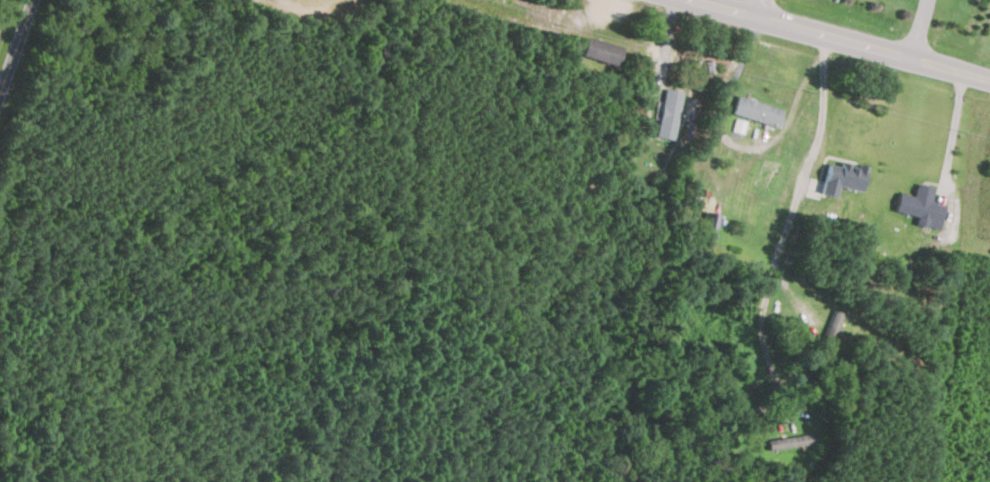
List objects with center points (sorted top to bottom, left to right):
road: (761, 9)
road: (920, 29)
road: (842, 40)
road: (16, 47)
building: (600, 50)
building: (758, 110)
building: (669, 113)
road: (953, 131)
road: (814, 164)
building: (845, 177)
building: (711, 218)
building: (833, 327)
road: (765, 349)
building: (793, 440)

